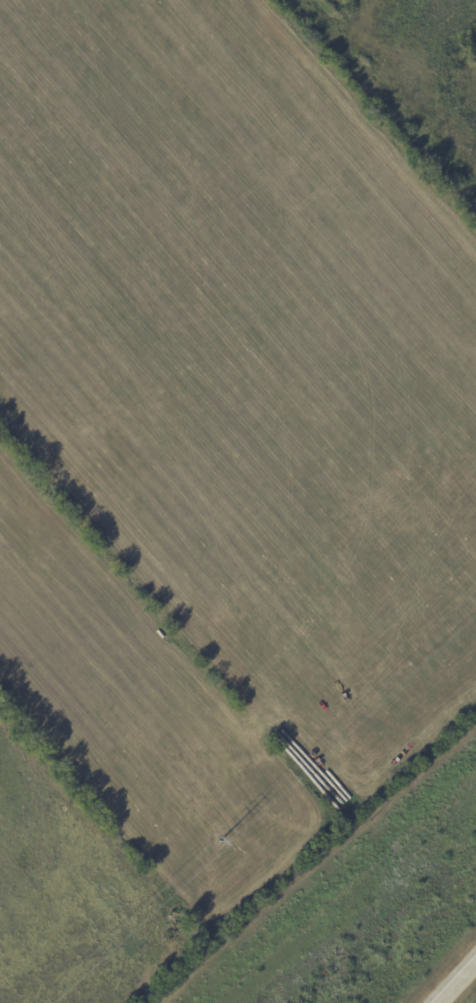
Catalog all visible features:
power tower: (219, 839)
road: (459, 984)

